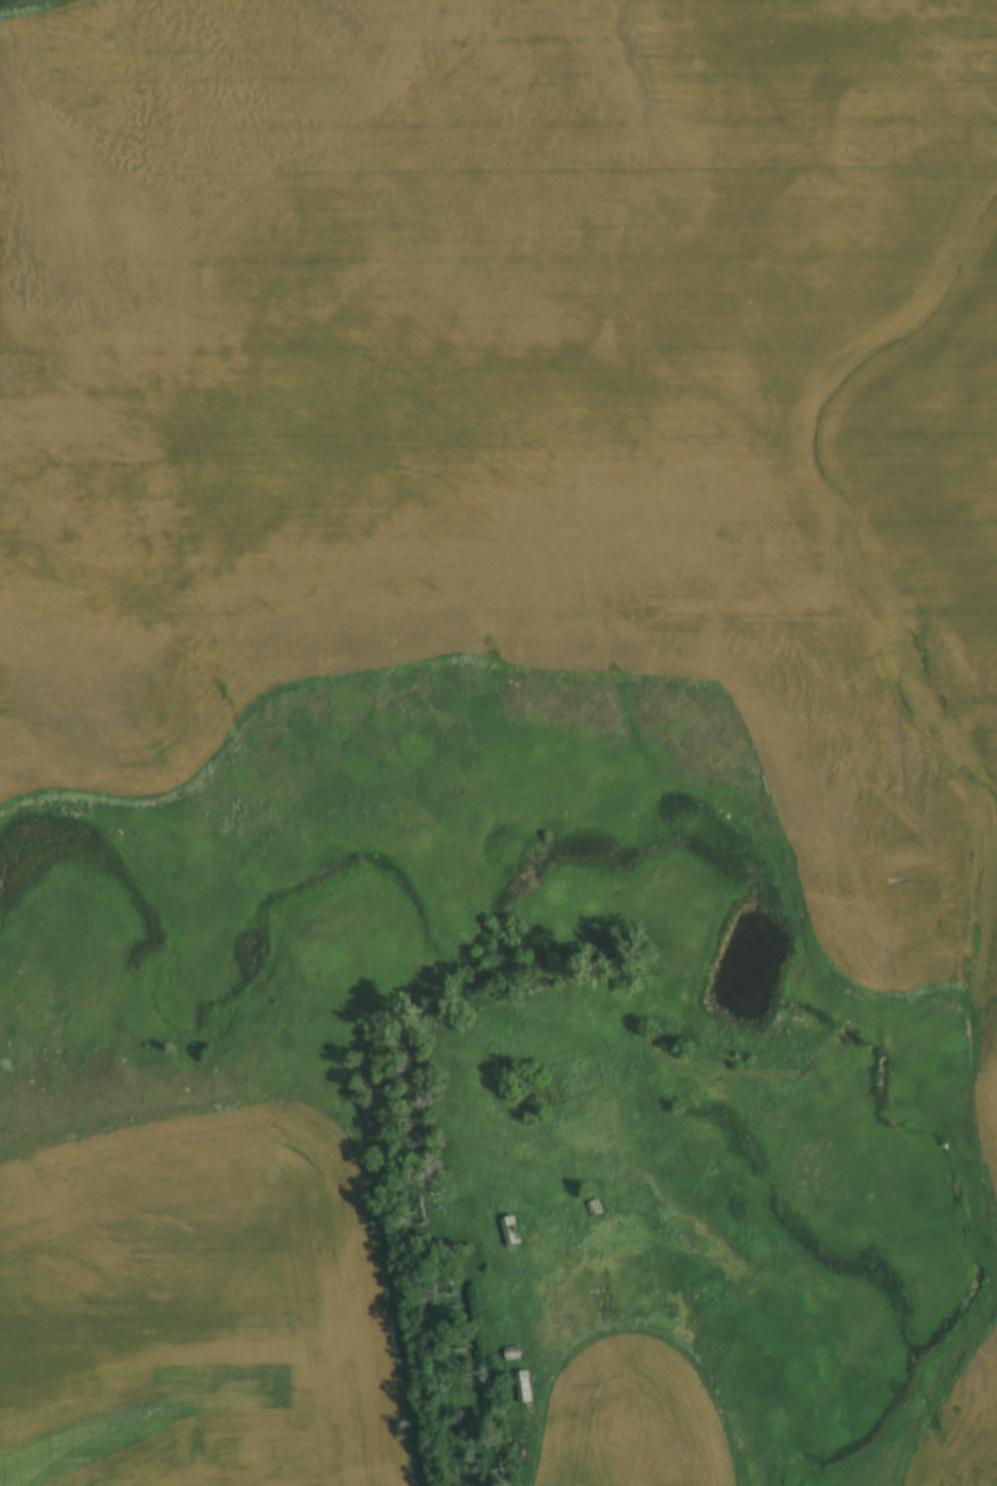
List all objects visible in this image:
building: (594, 1210)
building: (512, 1233)
building: (512, 1354)
road: (492, 1450)

